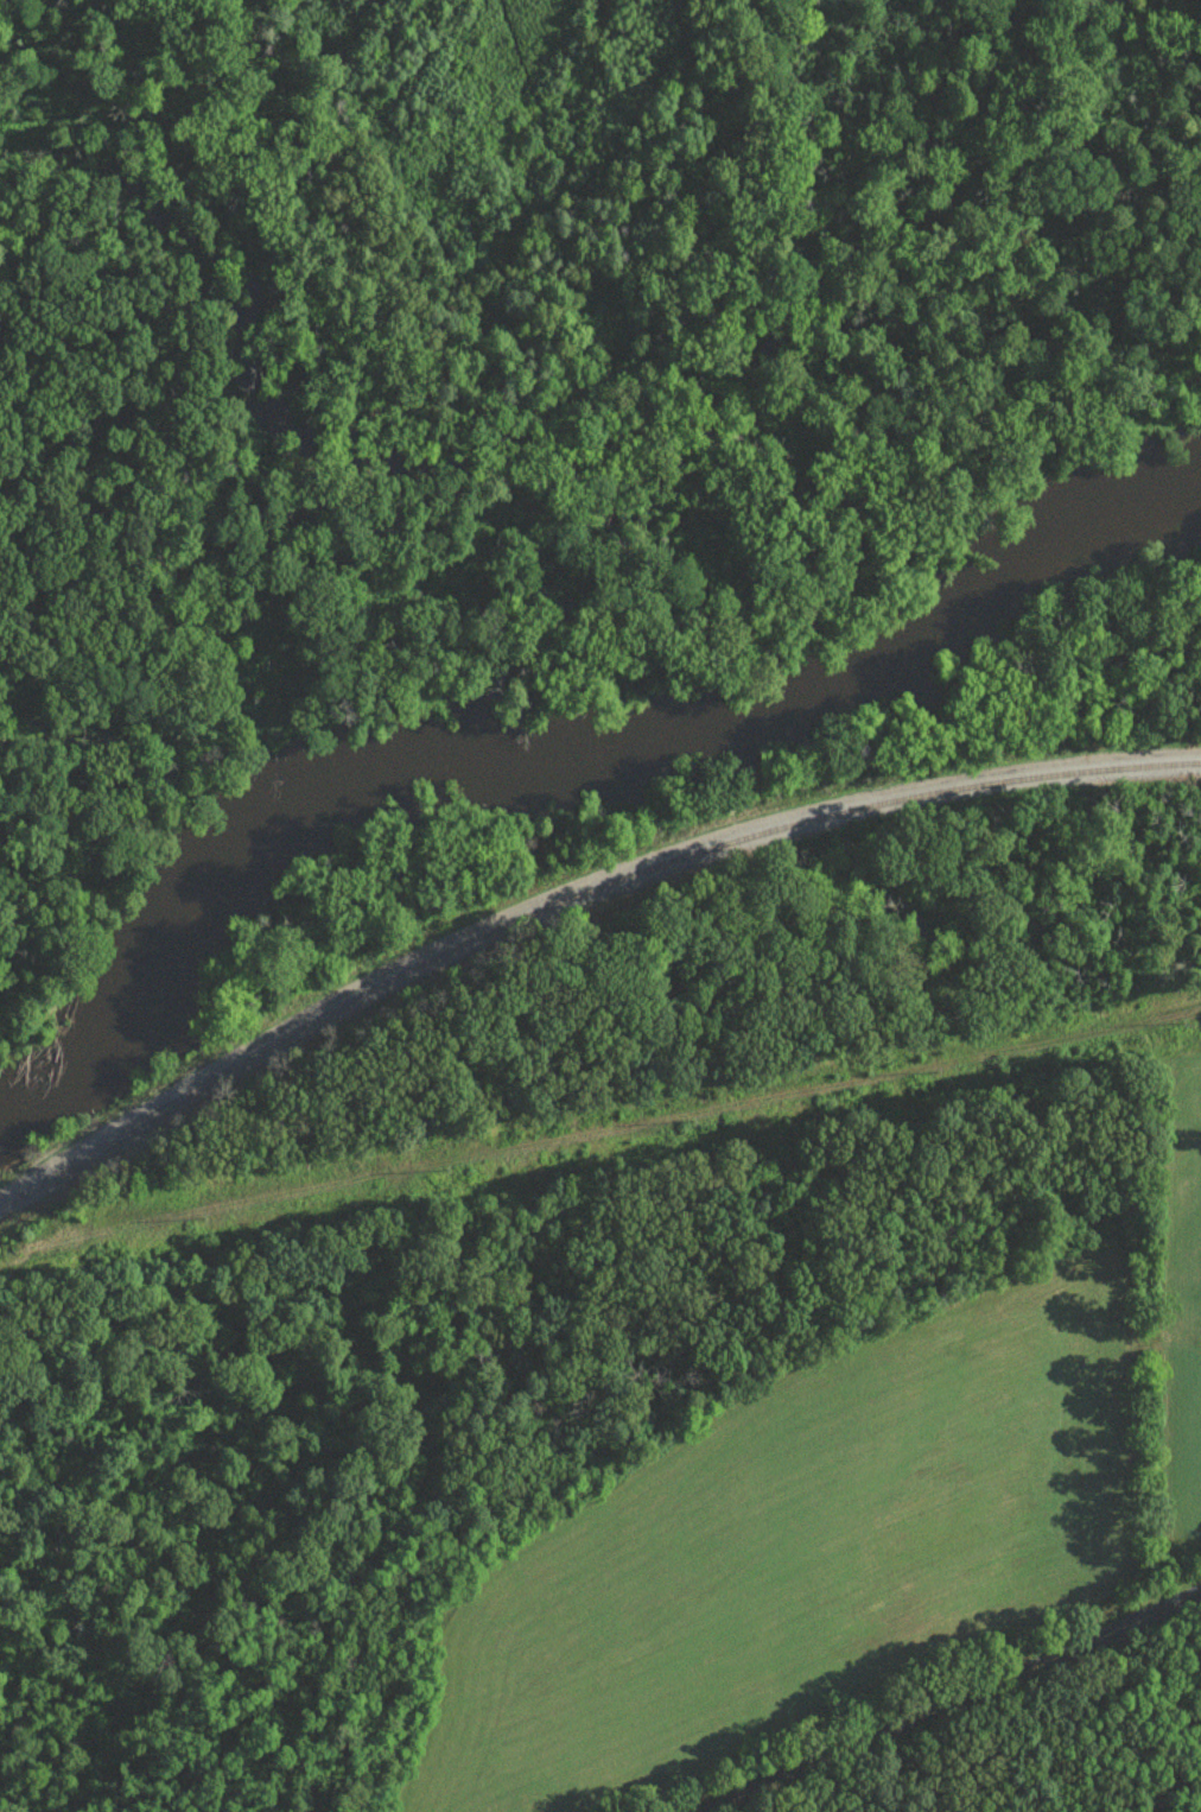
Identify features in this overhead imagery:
river: (538, 742)
railway: (570, 895)
road: (938, 1696)

